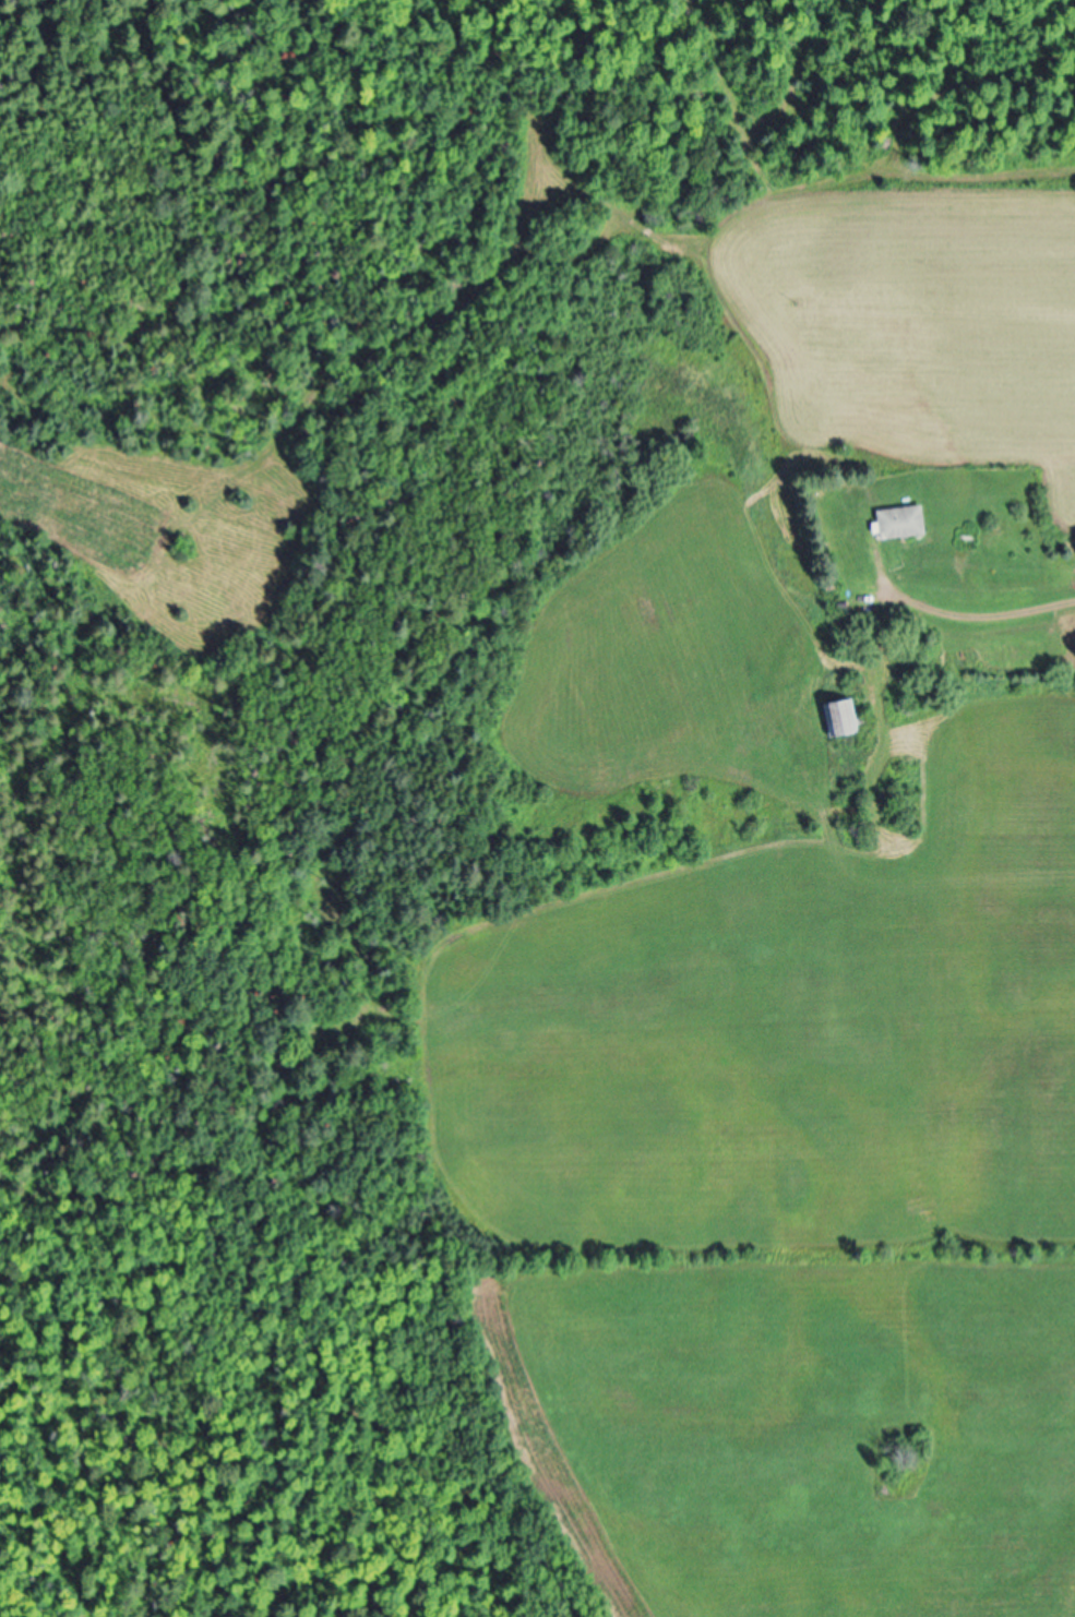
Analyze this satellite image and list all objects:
building: (897, 526)
road: (958, 619)
building: (837, 722)

